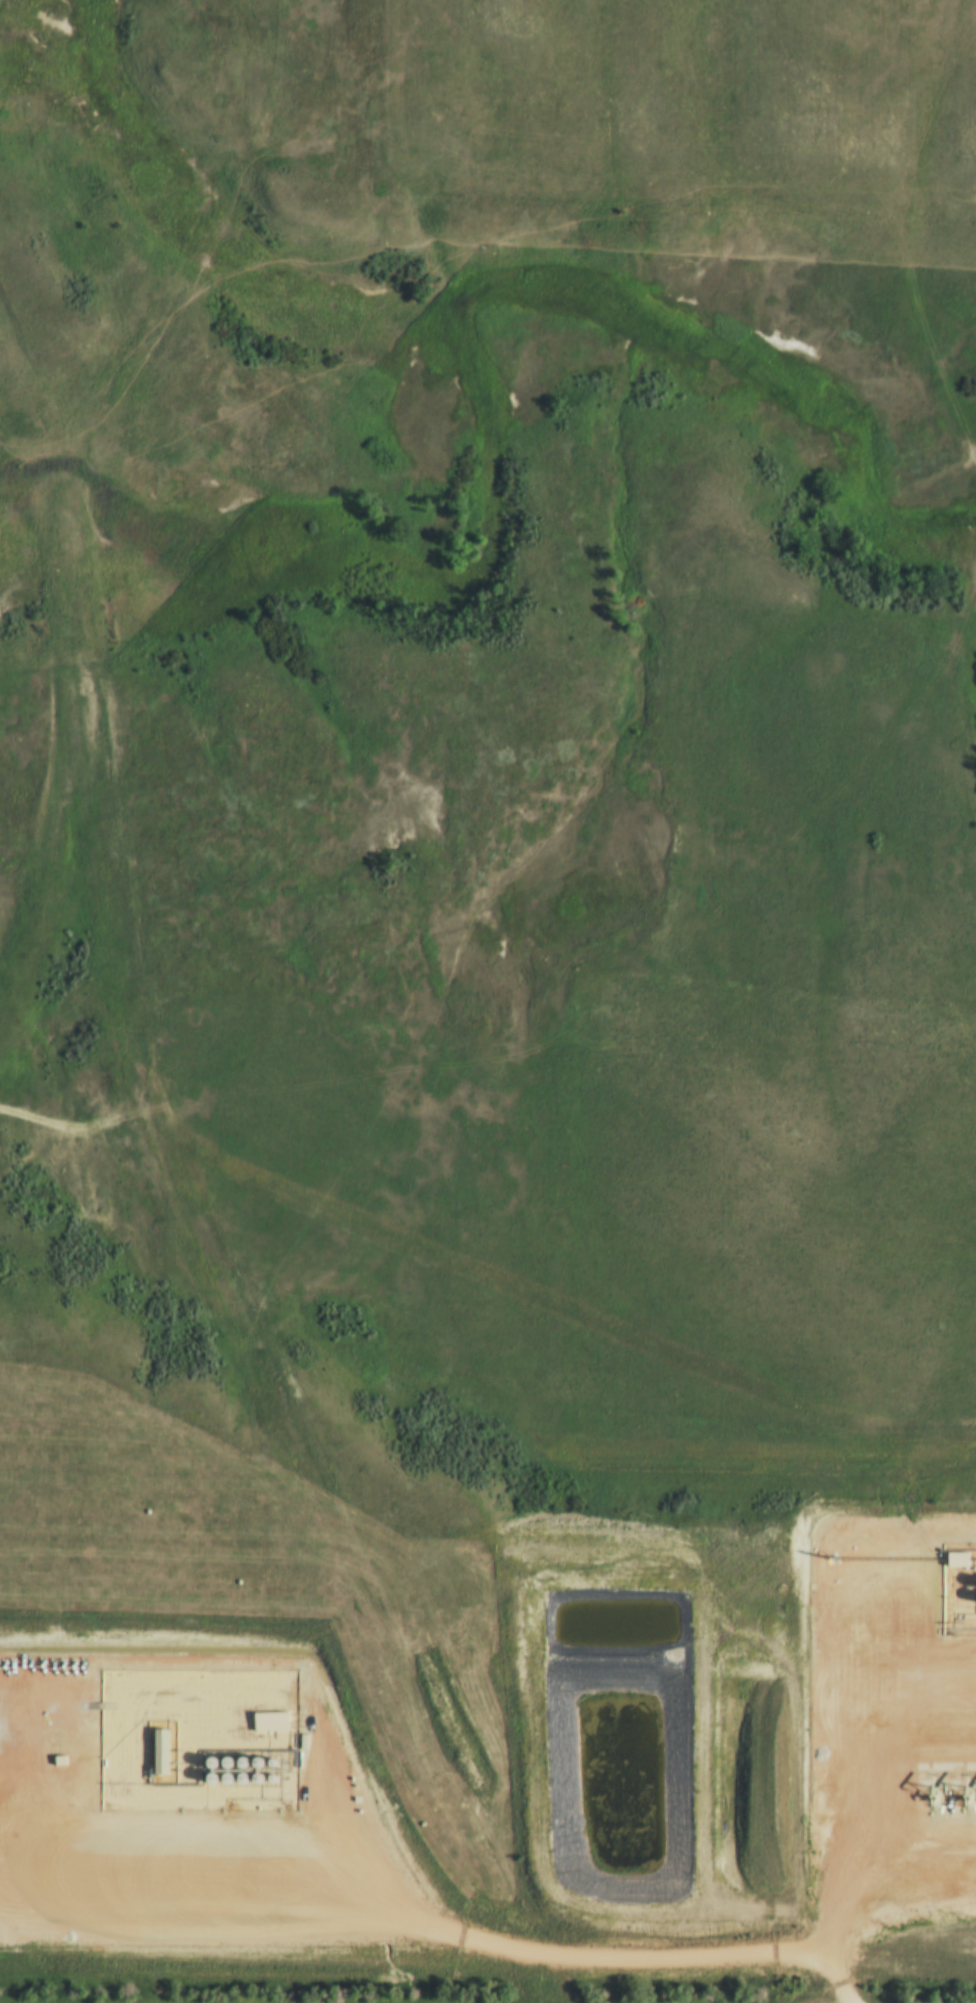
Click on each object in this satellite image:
quarry: (829, 1798)

